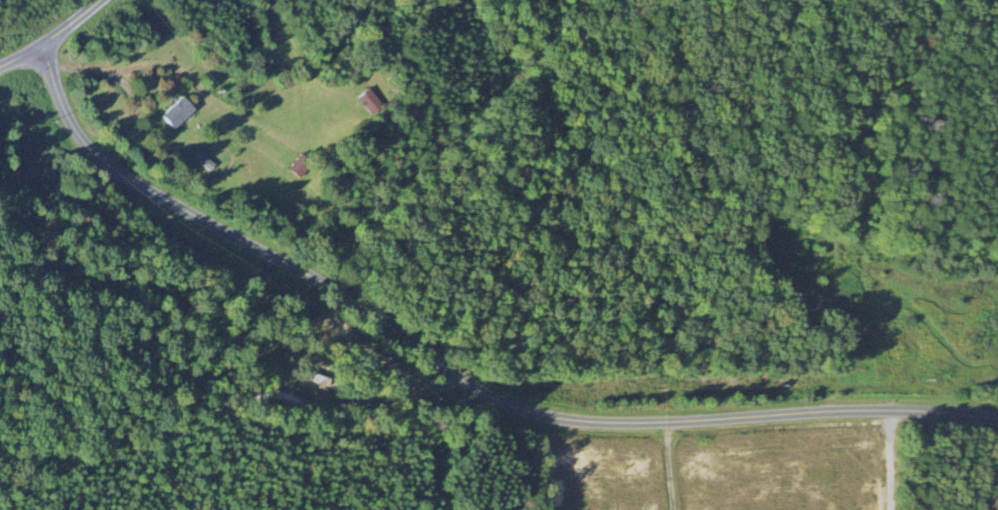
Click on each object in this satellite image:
road: (66, 25)
building: (371, 102)
building: (180, 114)
building: (205, 162)
building: (300, 168)
road: (443, 362)
road: (889, 460)
road: (669, 466)

